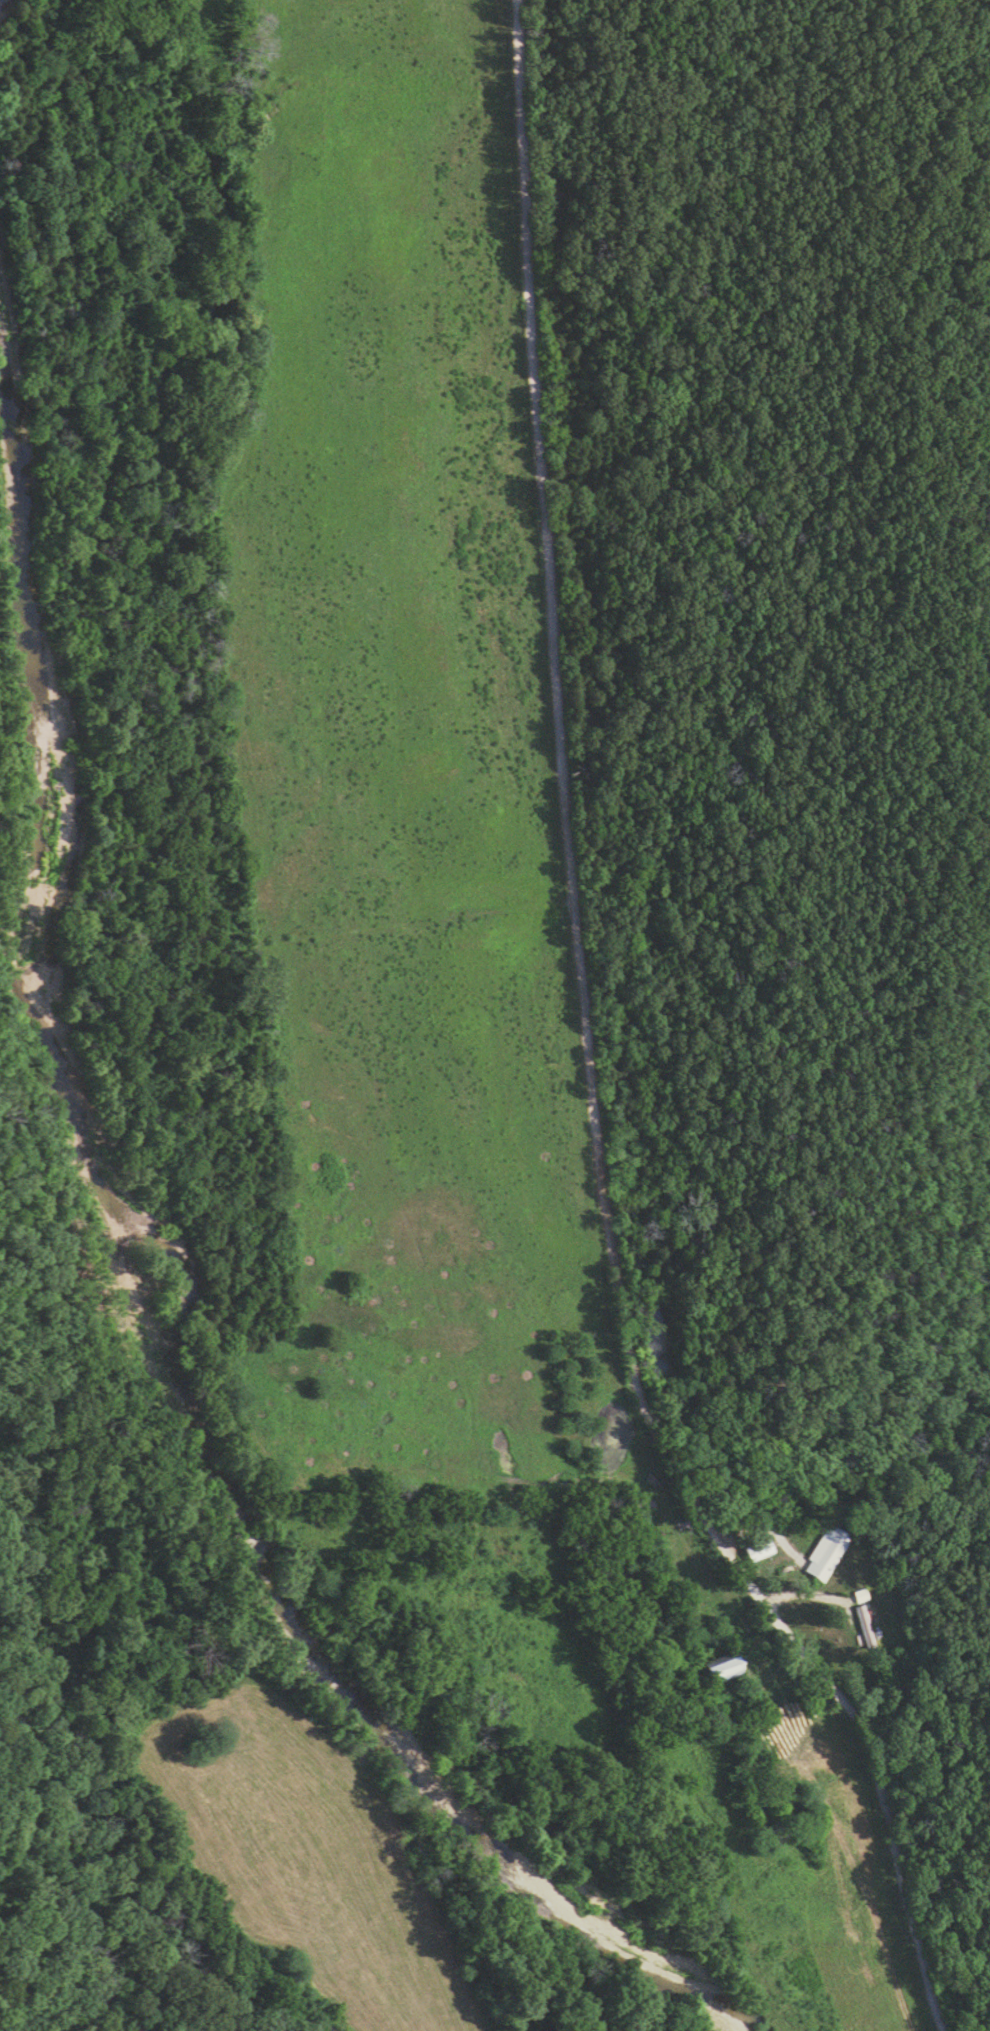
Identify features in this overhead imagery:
road: (603, 1057)
building: (759, 1551)
building: (825, 1556)
building: (862, 1628)

